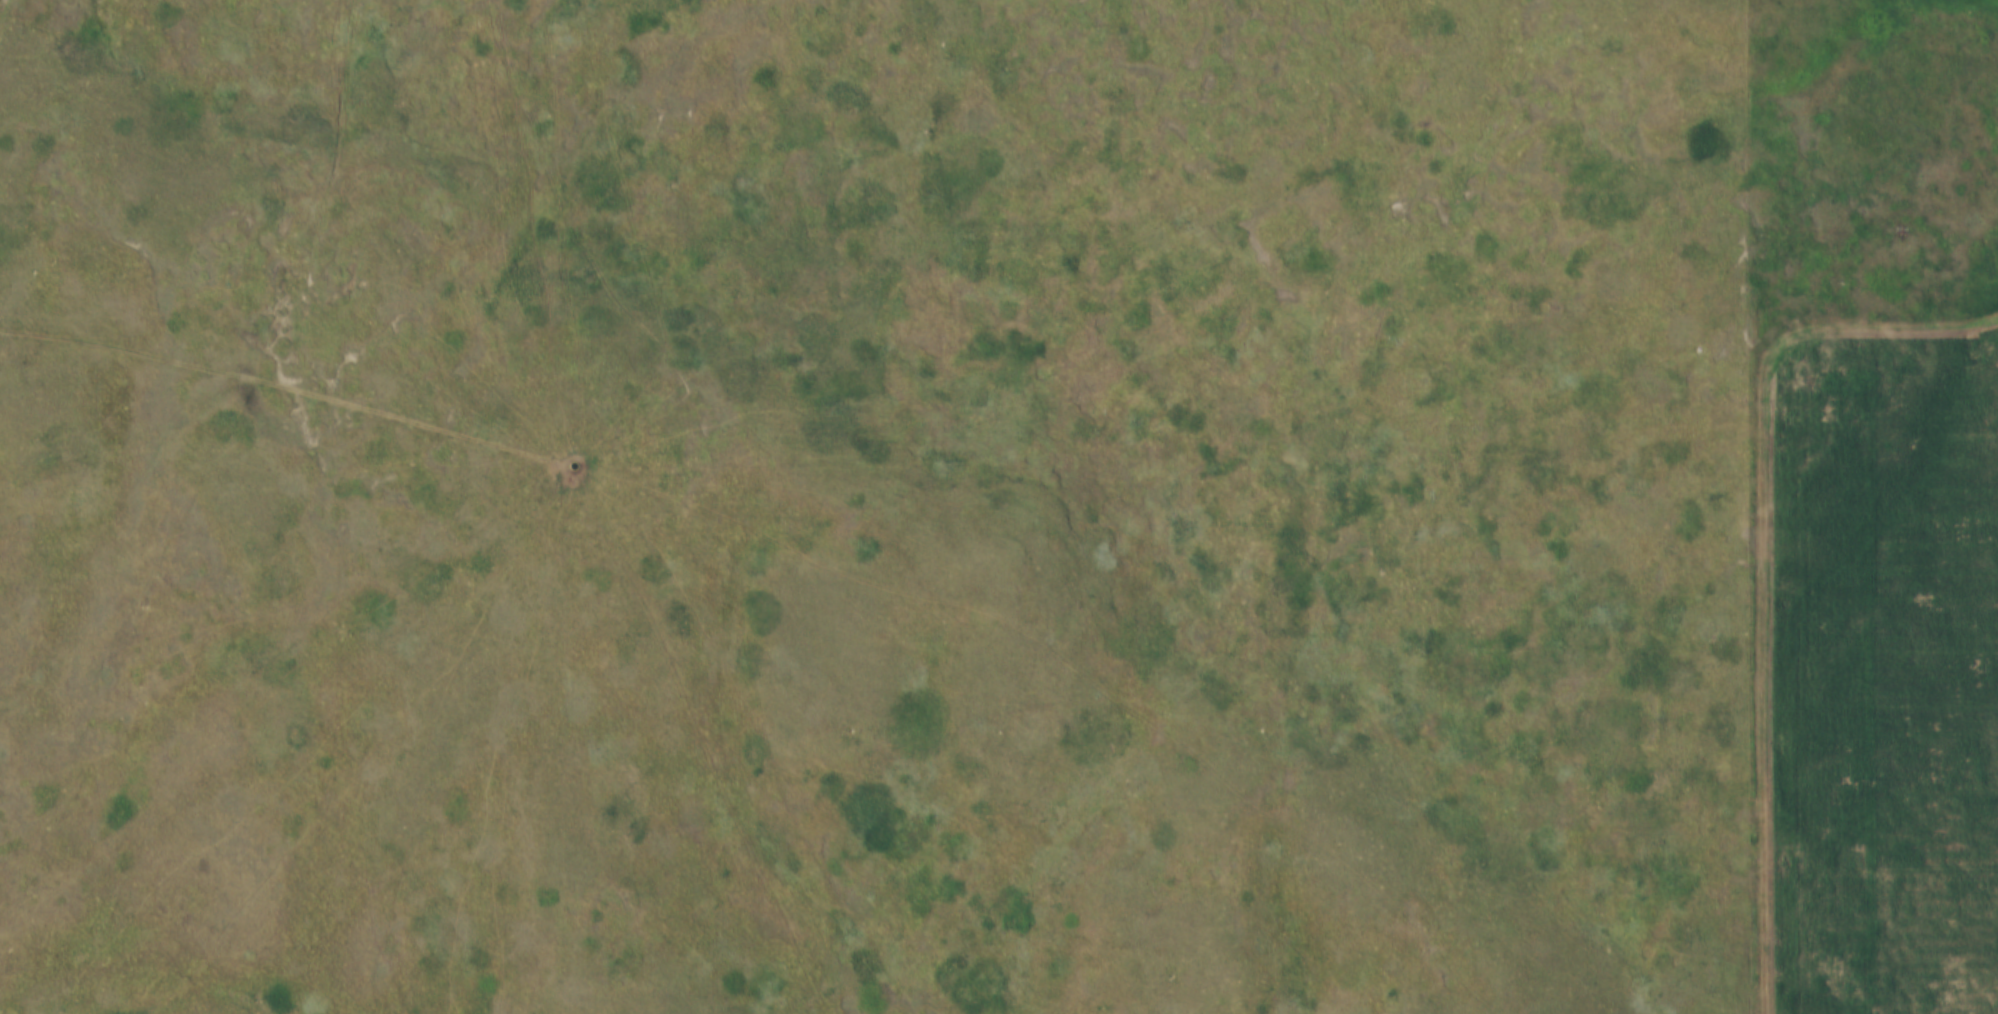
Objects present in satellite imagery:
road: (1985, 1004)

